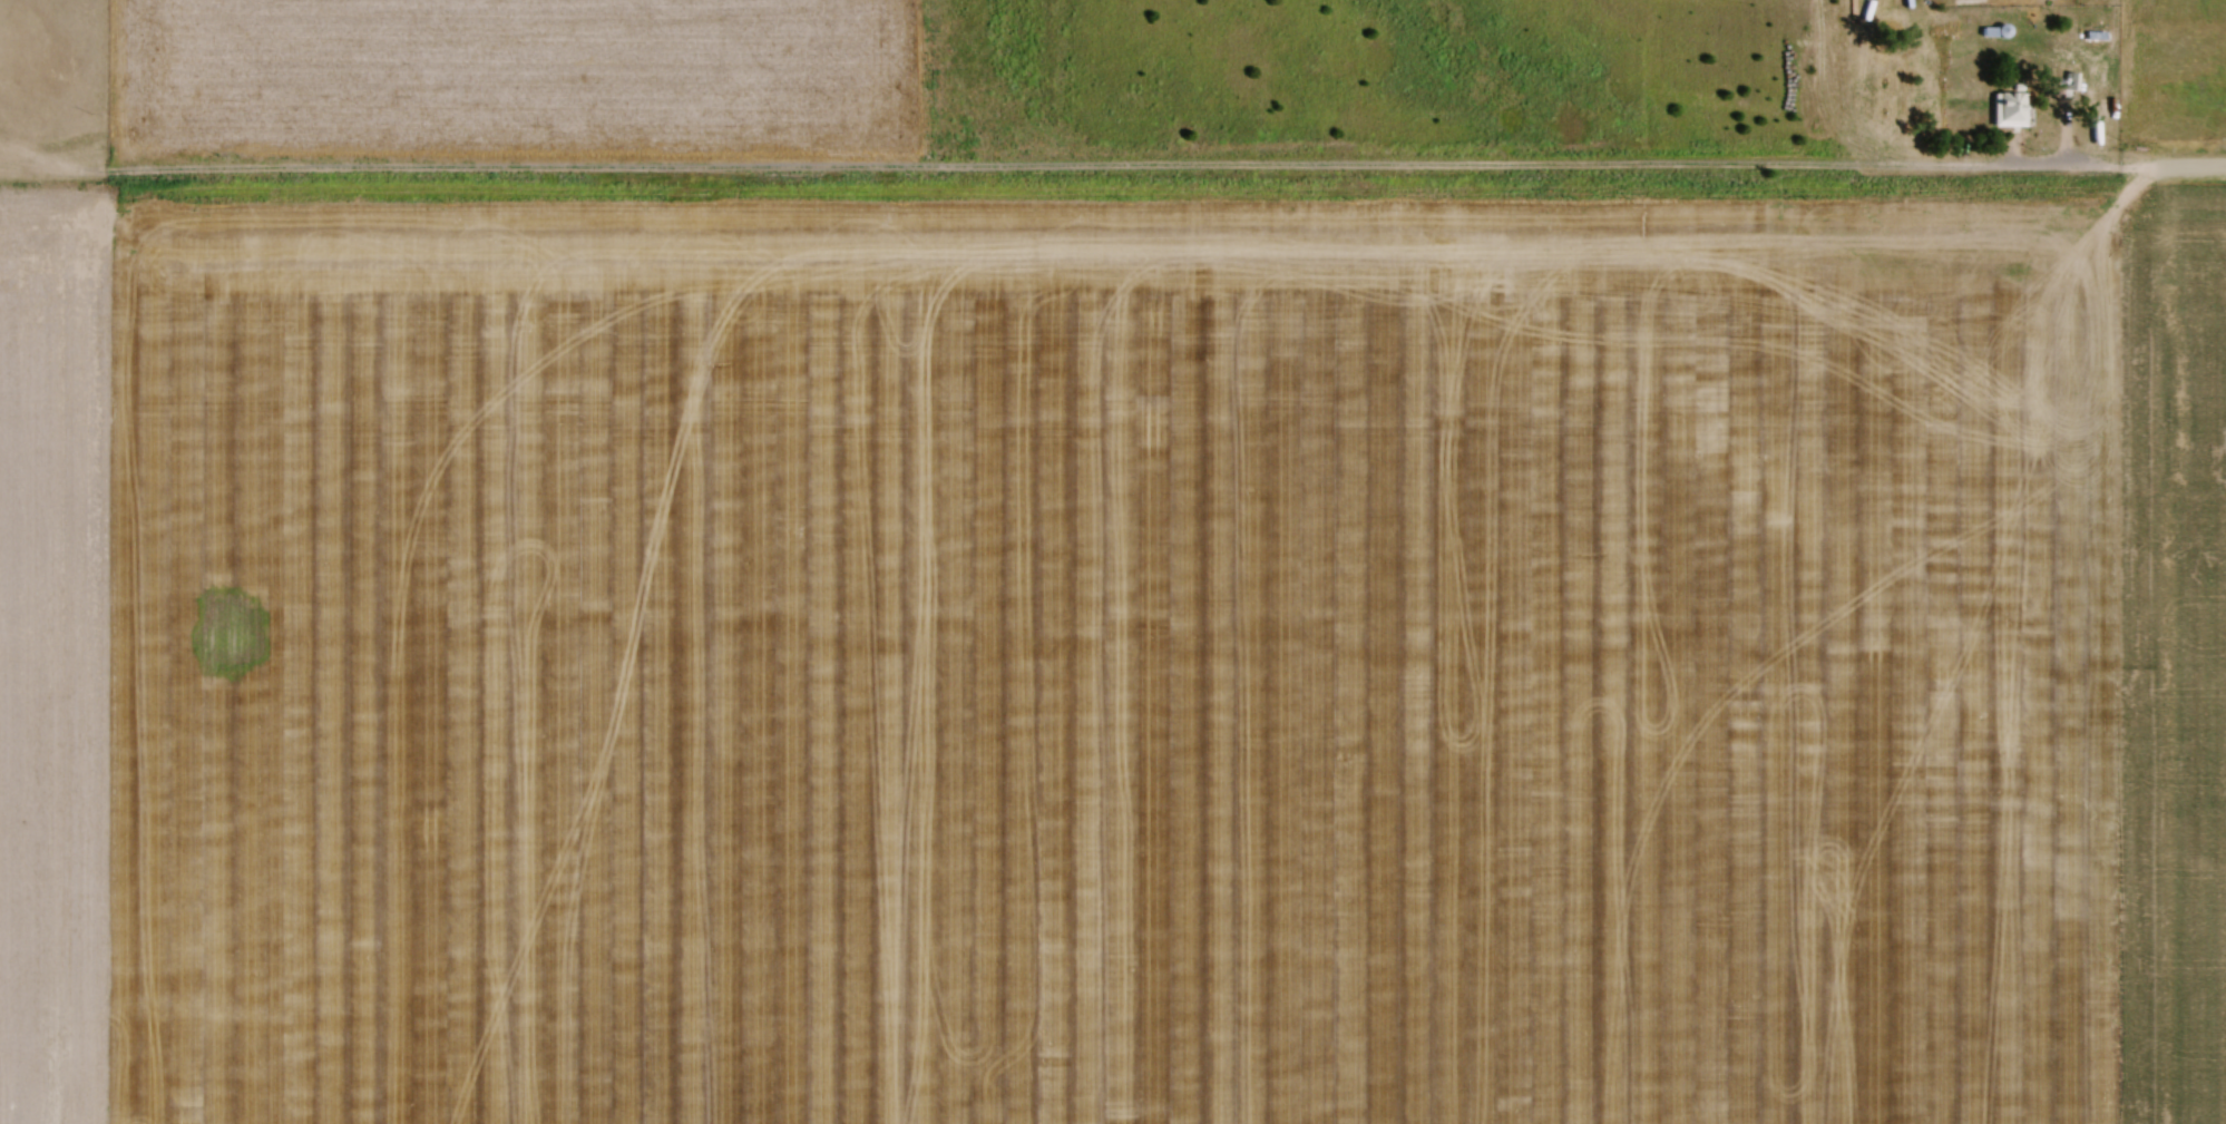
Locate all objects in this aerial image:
building: (2071, 87)
building: (2008, 110)
road: (2072, 145)
road: (1159, 159)

